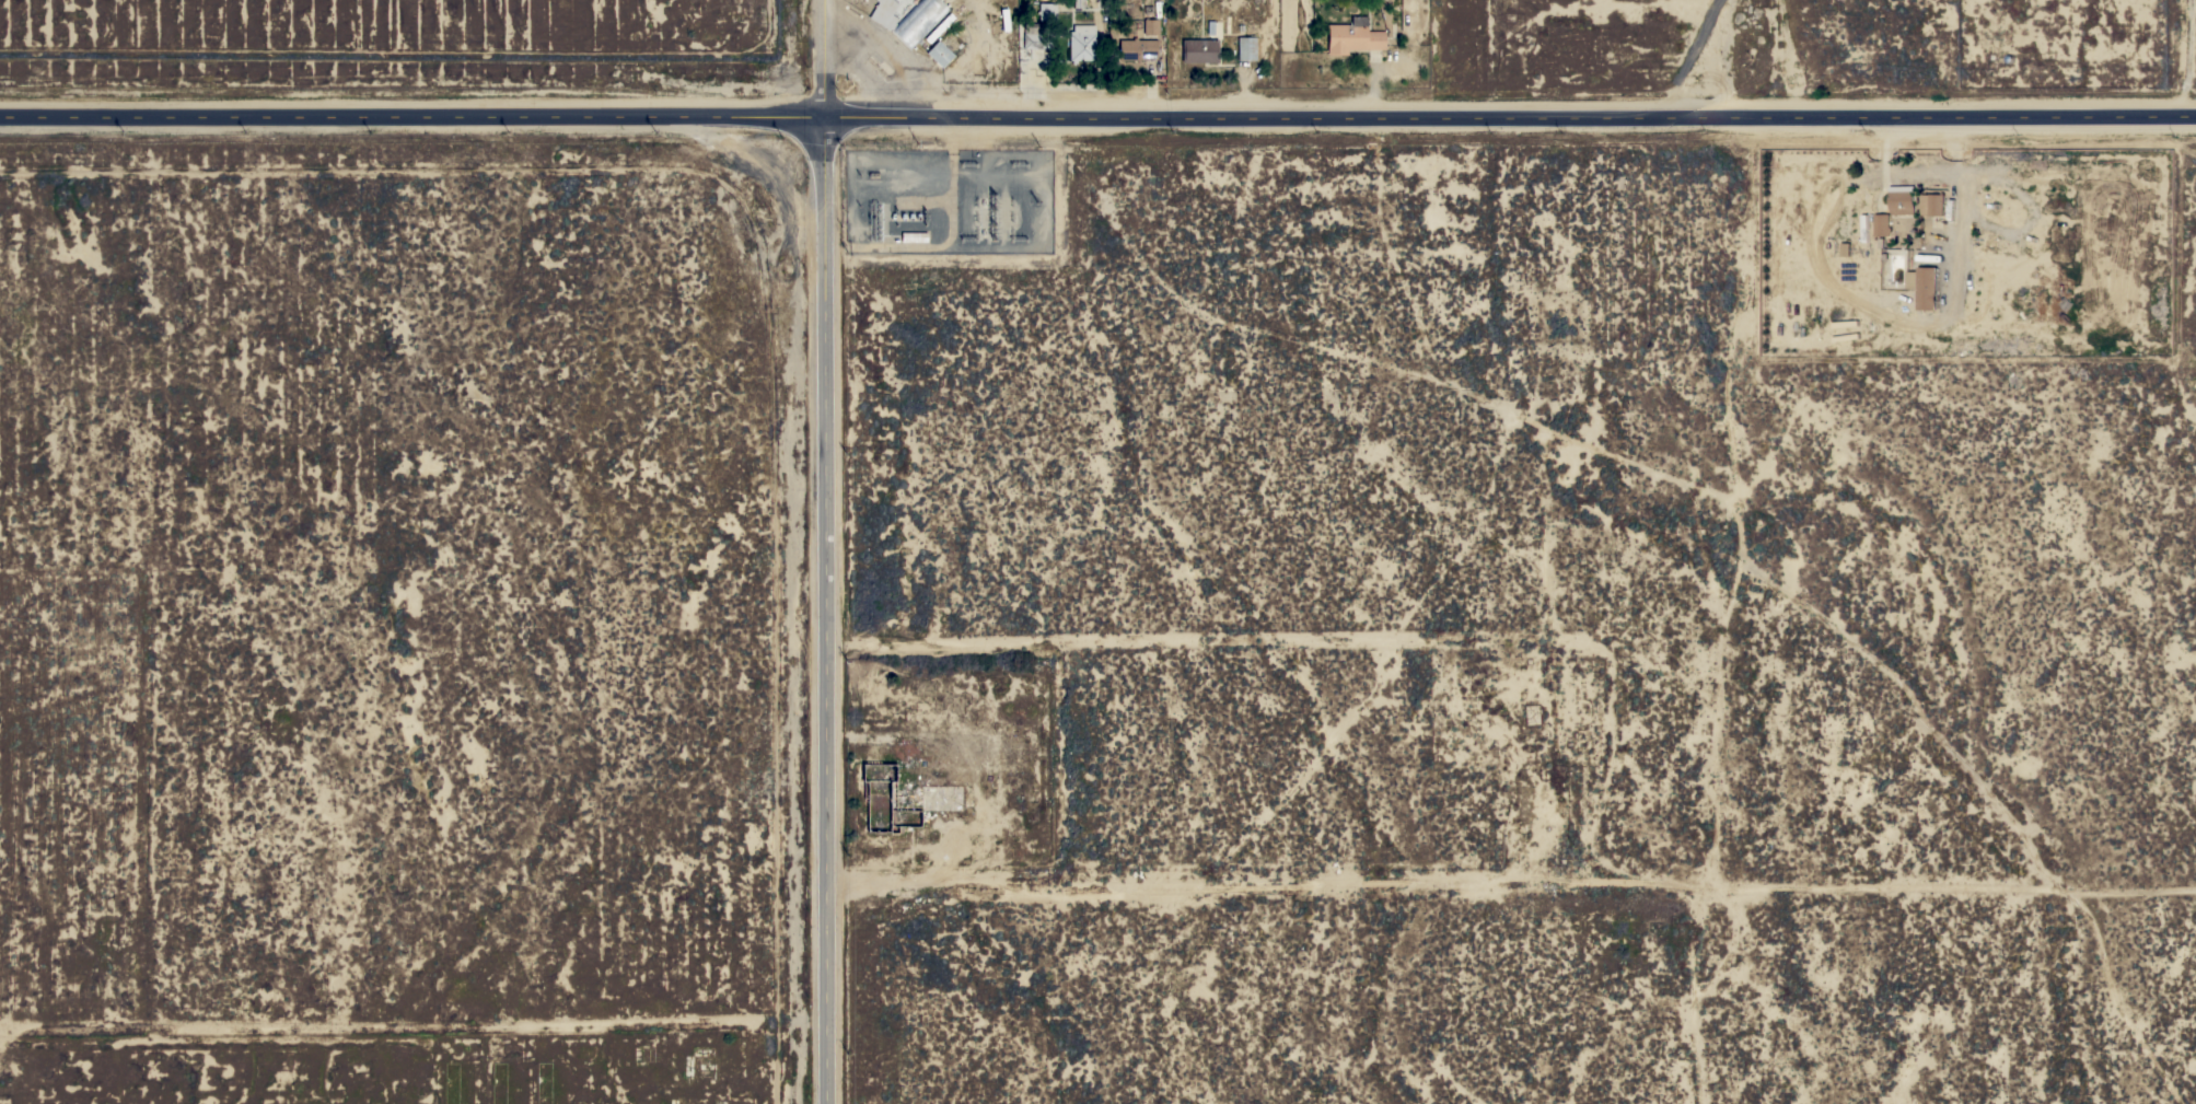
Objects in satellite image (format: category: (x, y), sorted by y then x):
building: (1078, 3)
building: (1047, 11)
building: (883, 13)
building: (918, 22)
building: (1150, 26)
building: (1036, 36)
building: (1352, 36)
building: (1081, 43)
building: (1245, 48)
building: (1137, 49)
building: (1199, 50)
building: (939, 54)
road: (1693, 56)
road: (1782, 57)
road: (818, 59)
road: (410, 114)
road: (1509, 115)
road: (1916, 175)
building: (1902, 199)
building: (1931, 205)
building: (1881, 225)
building: (1864, 228)
building: (914, 236)
building: (1924, 287)
building: (1844, 323)
building: (1845, 337)
road: (161, 577)
road: (807, 611)
road: (397, 1064)
road: (1104, 1084)

